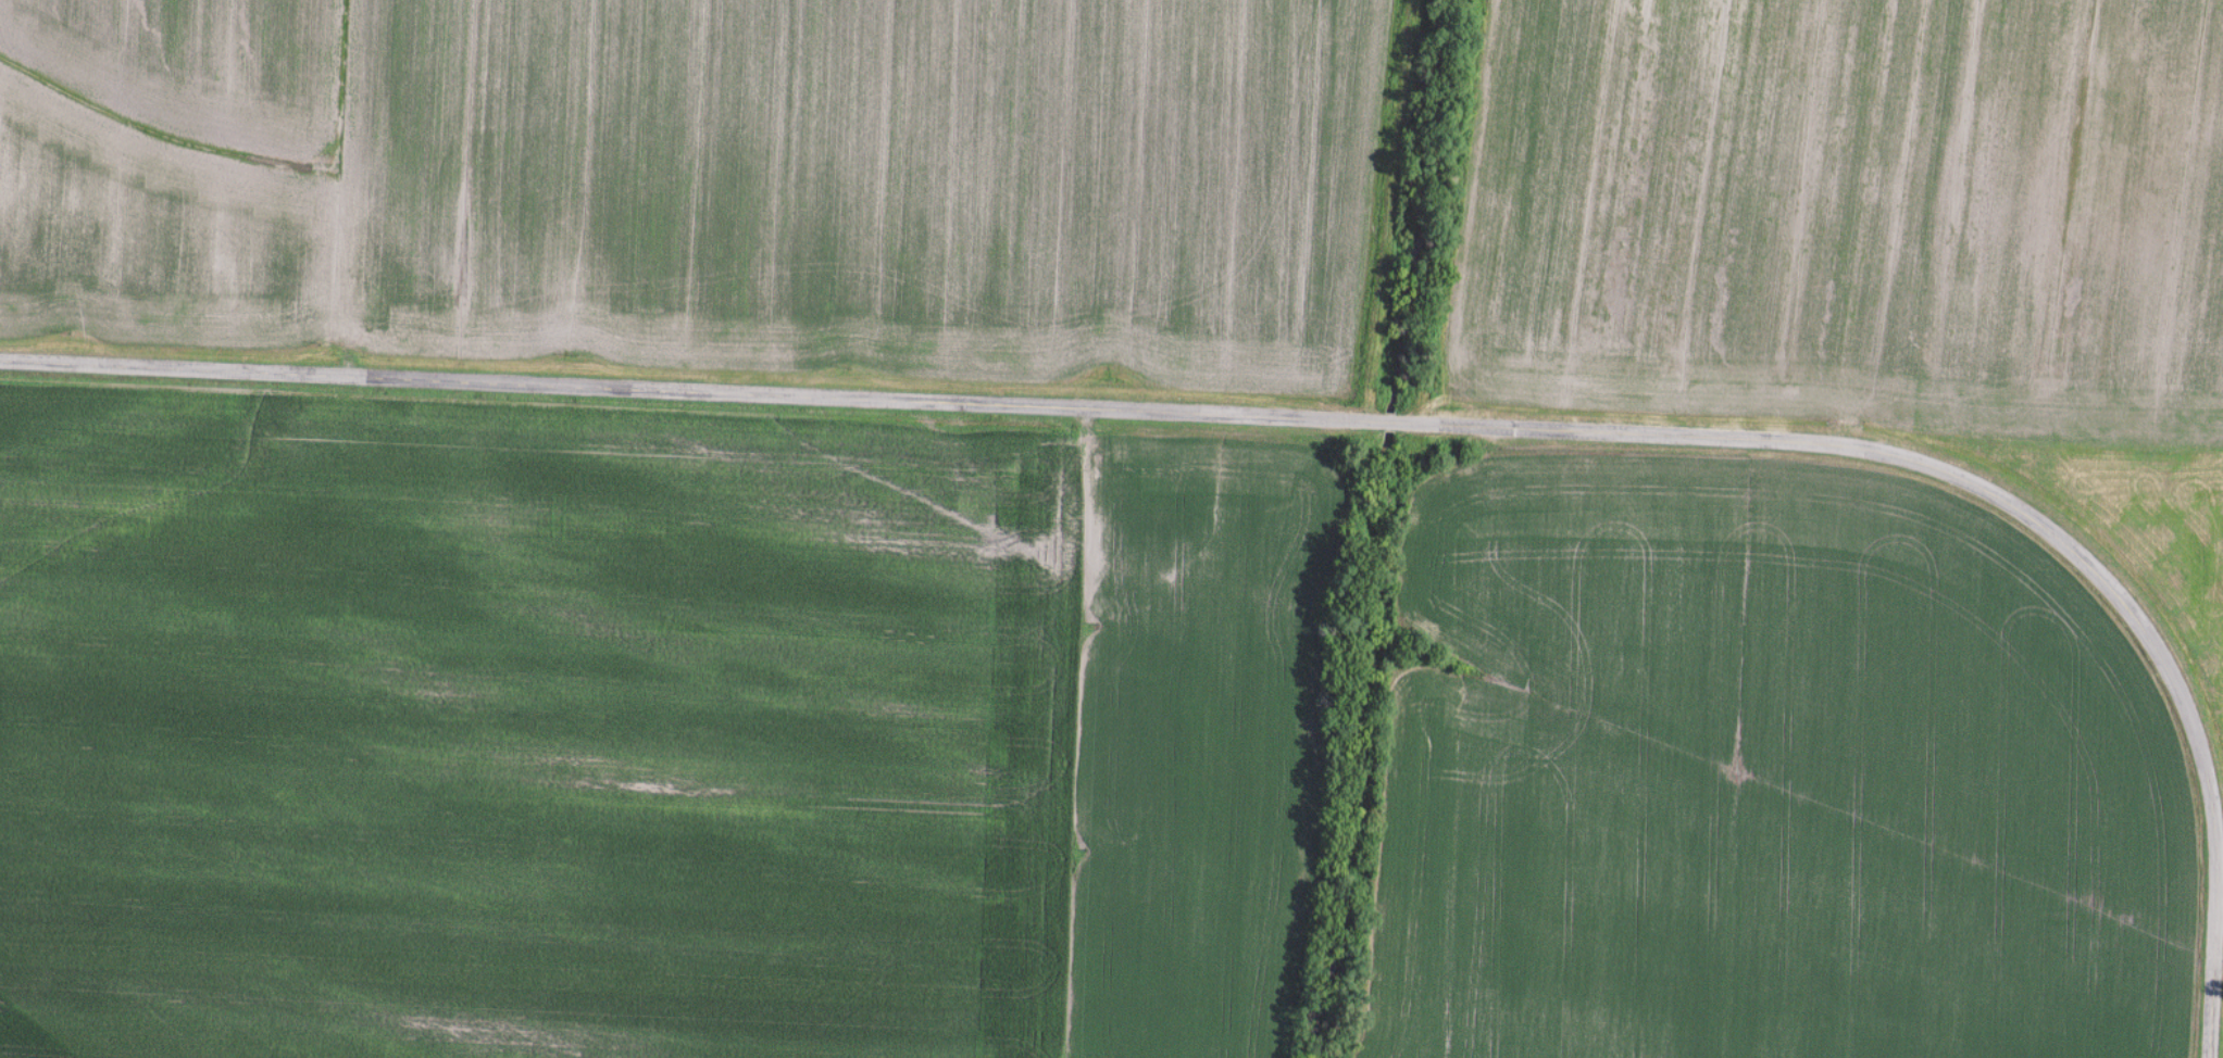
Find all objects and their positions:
road: (1325, 418)

